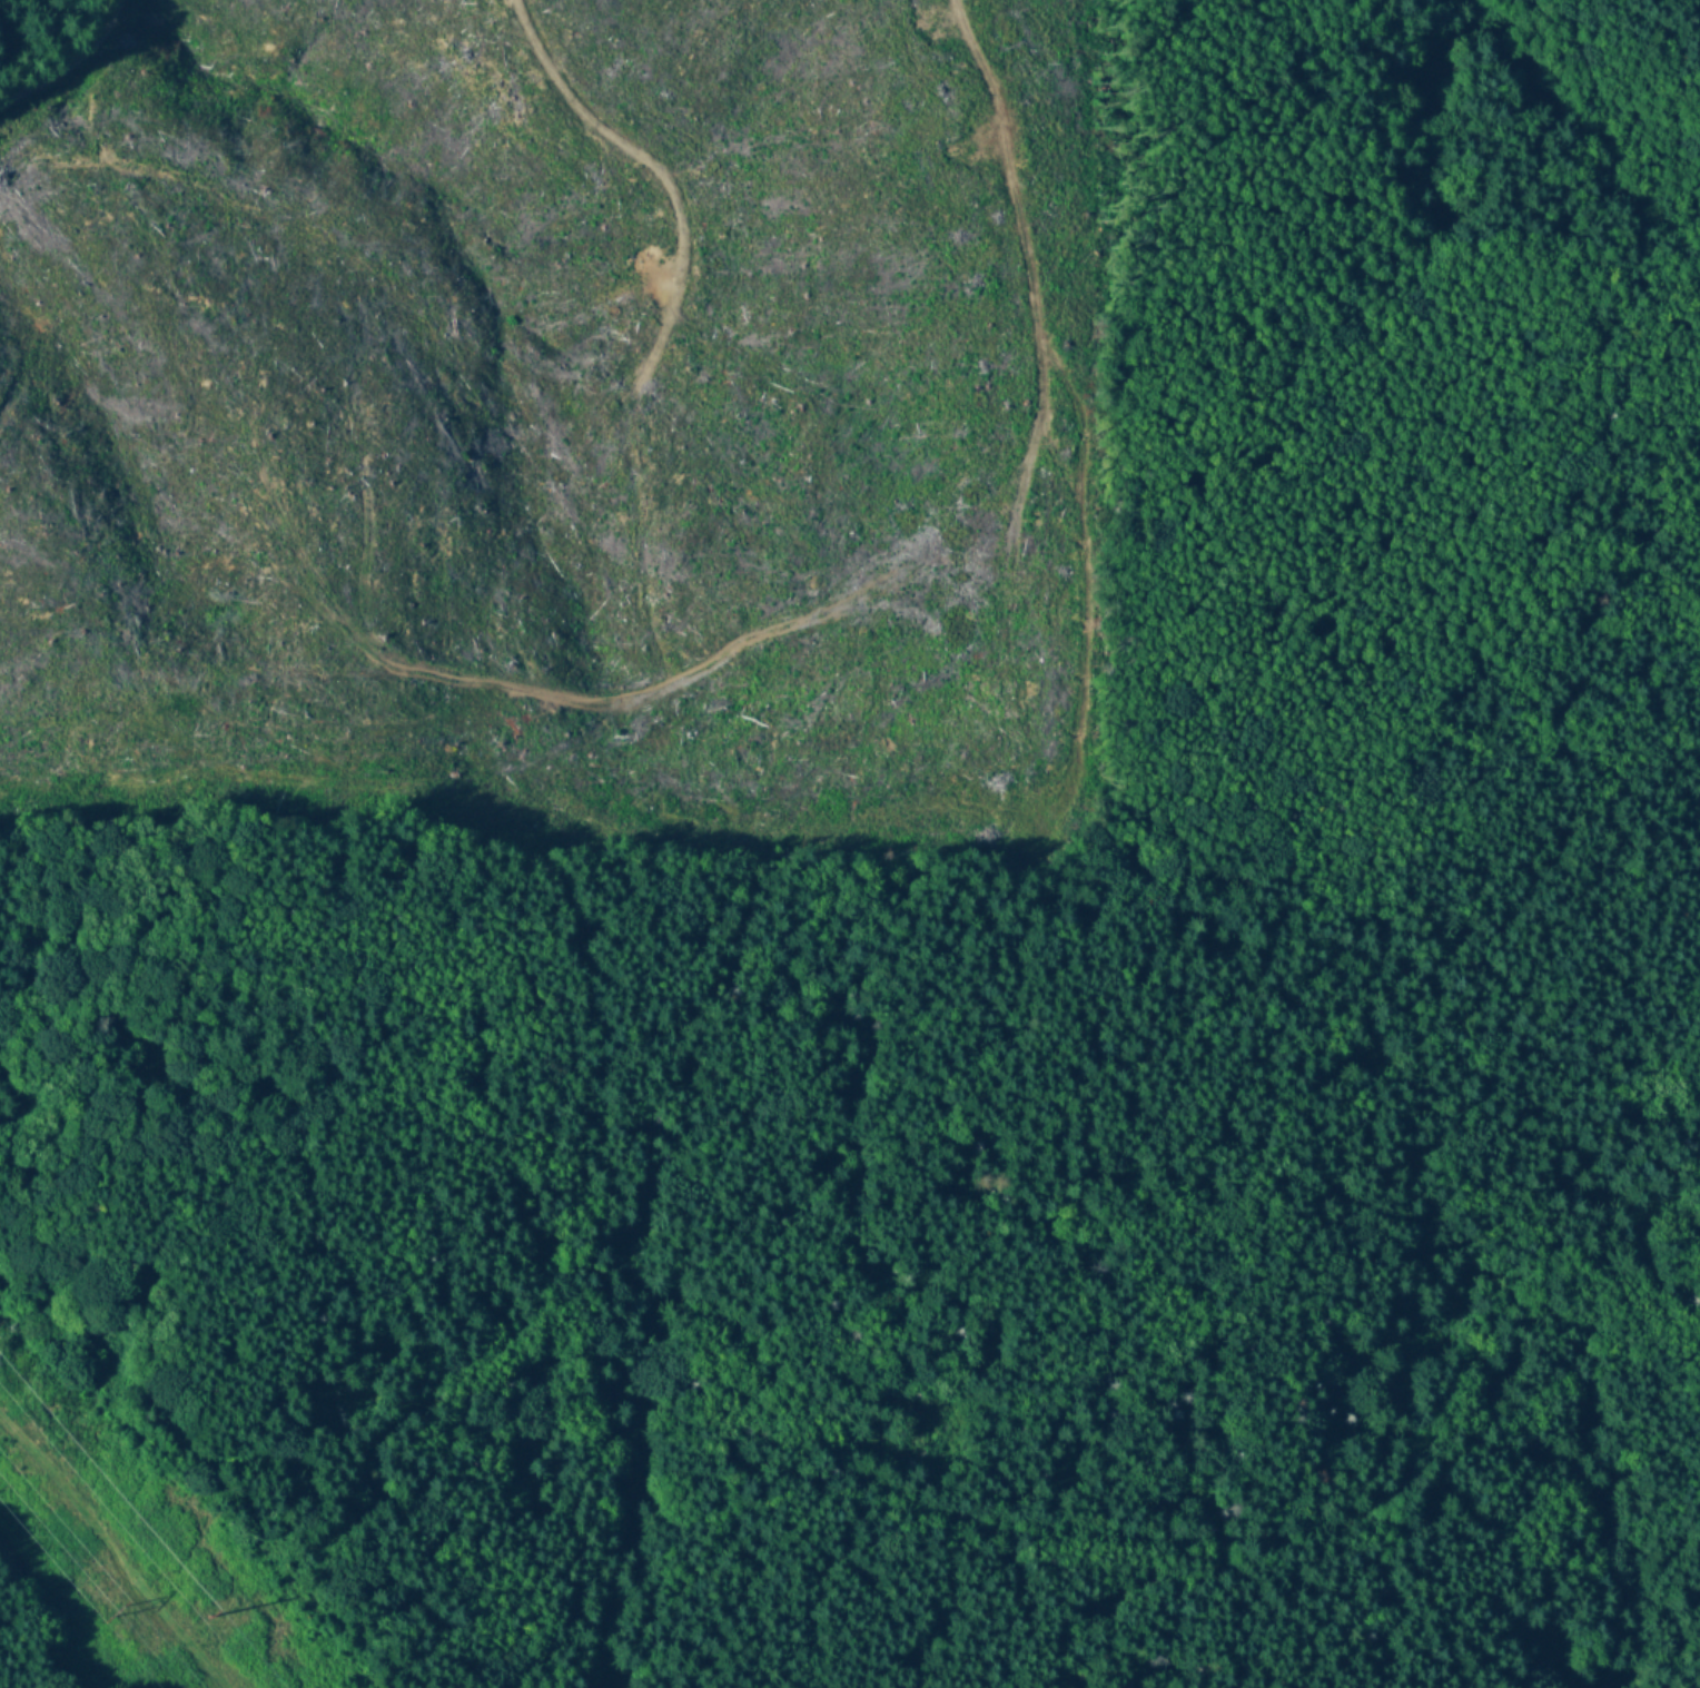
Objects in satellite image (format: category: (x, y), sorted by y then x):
power tower: (211, 1608)
power tower: (111, 1610)

